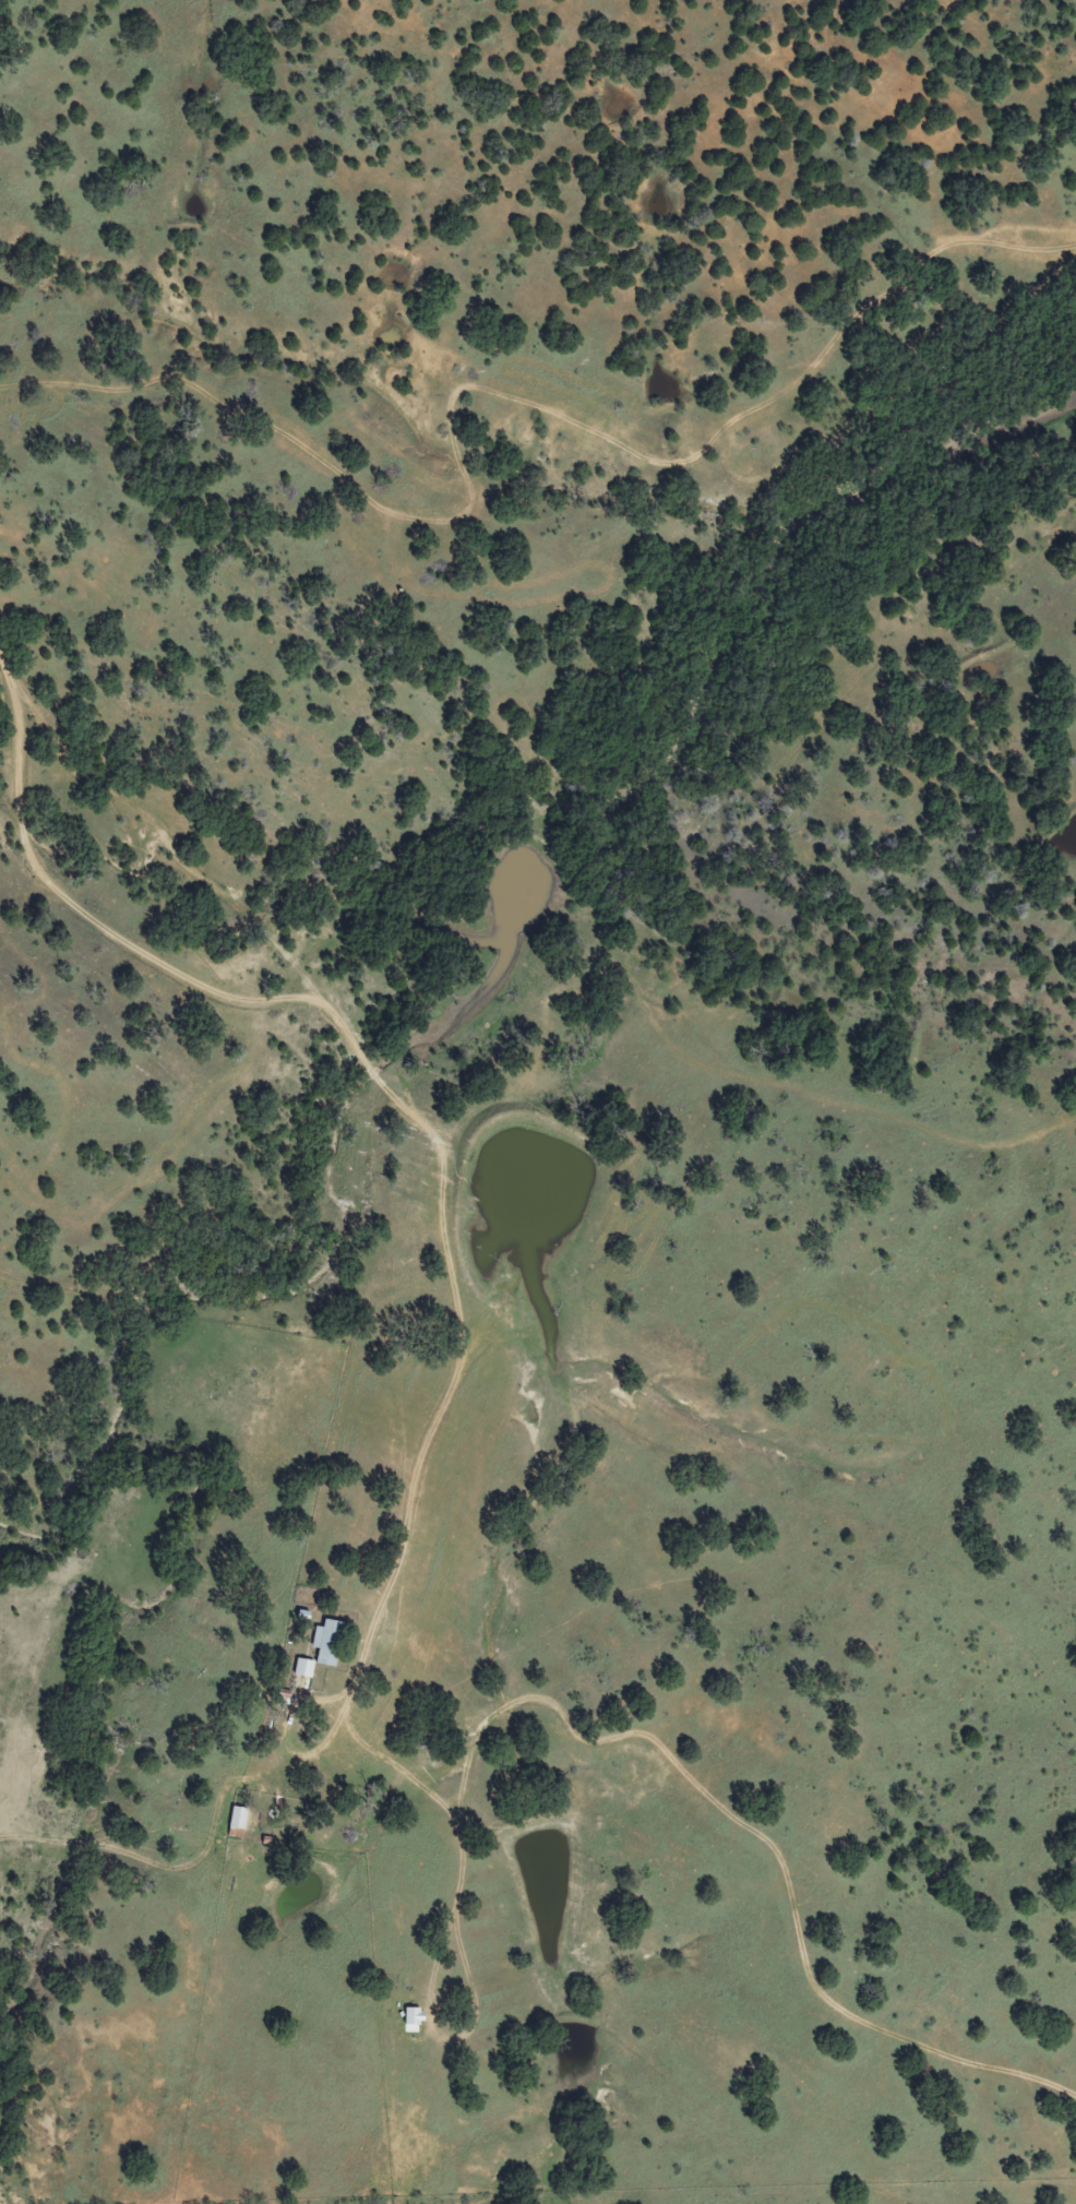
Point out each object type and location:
road: (195, 976)
building: (326, 1643)
building: (302, 1669)
building: (236, 1822)
building: (413, 2015)

